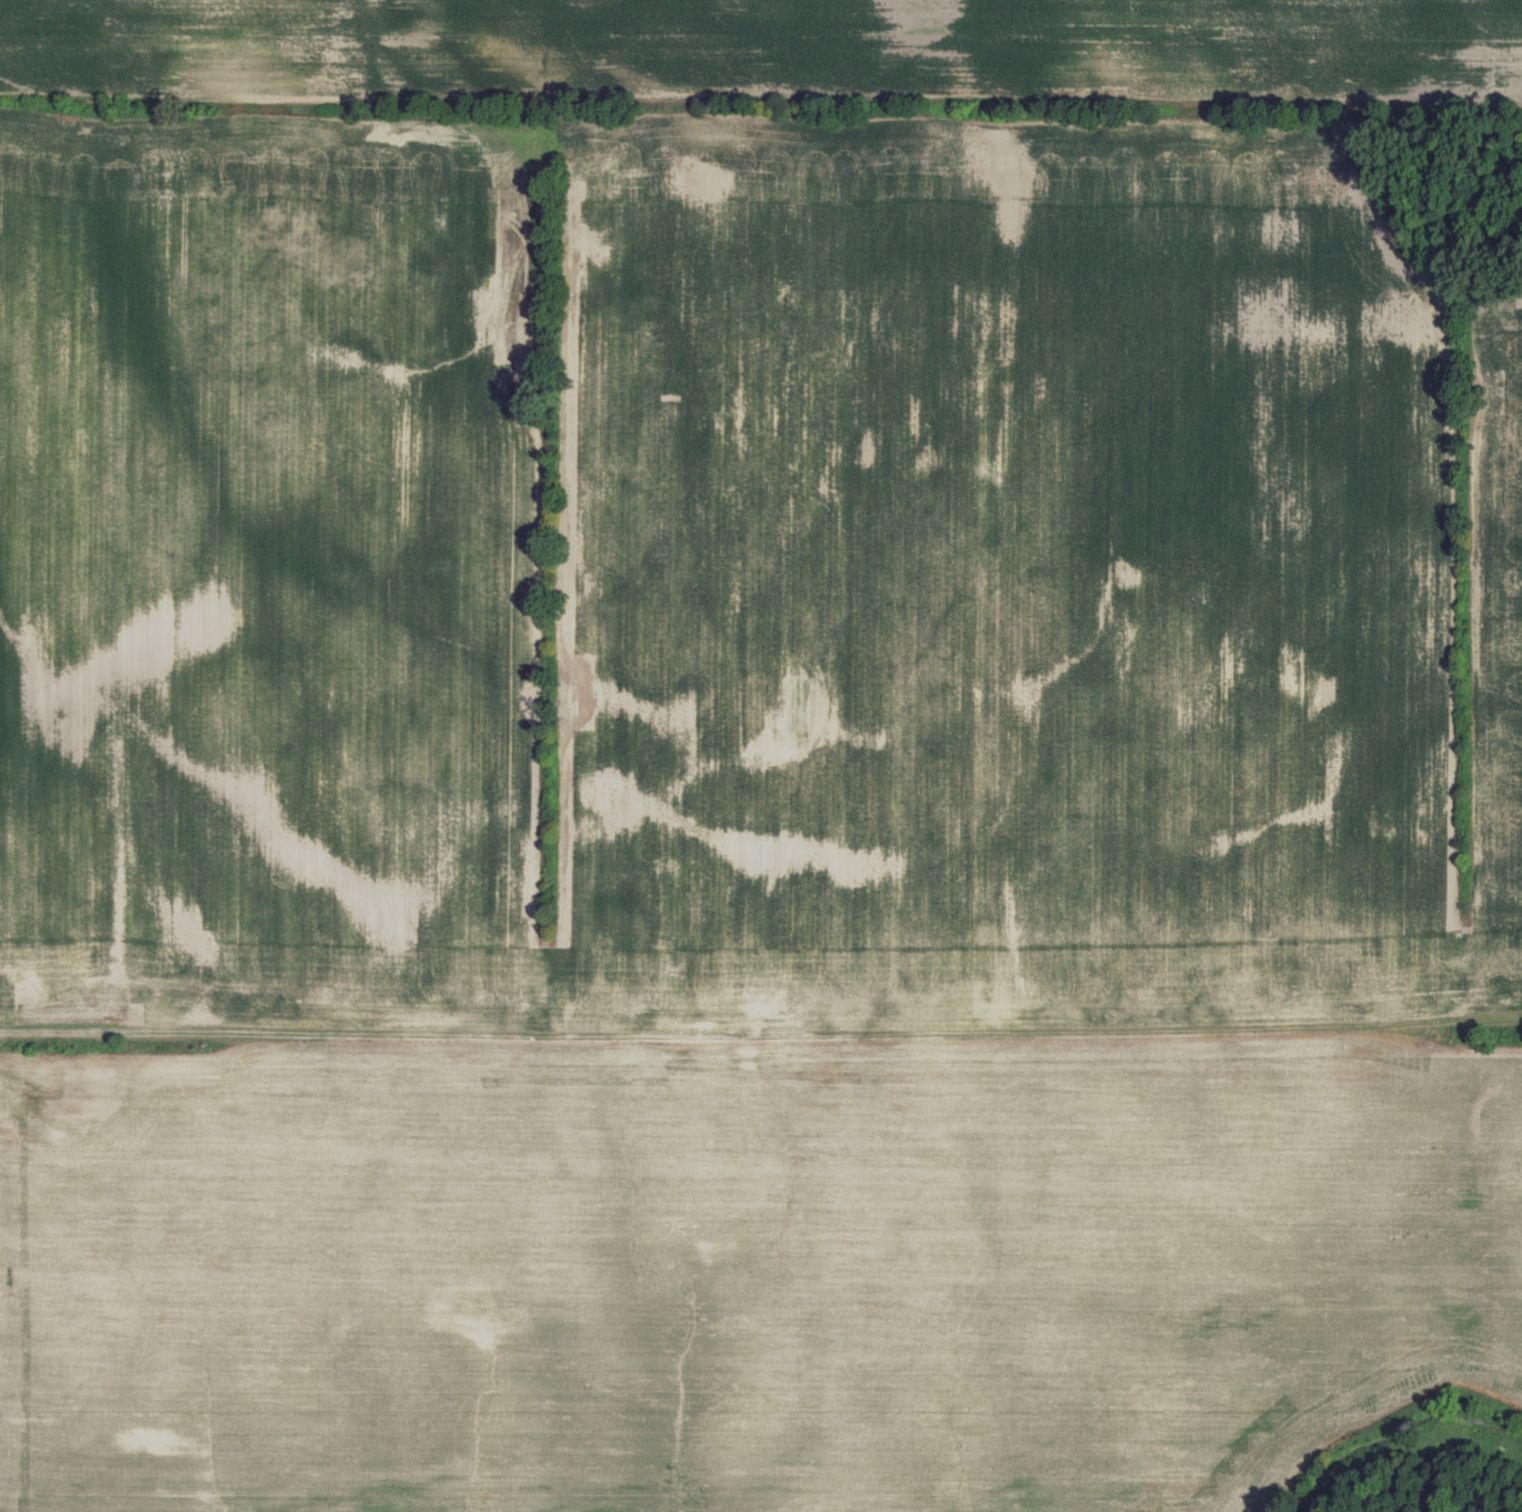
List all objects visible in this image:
crop: (761, 48)
crop: (756, 799)

